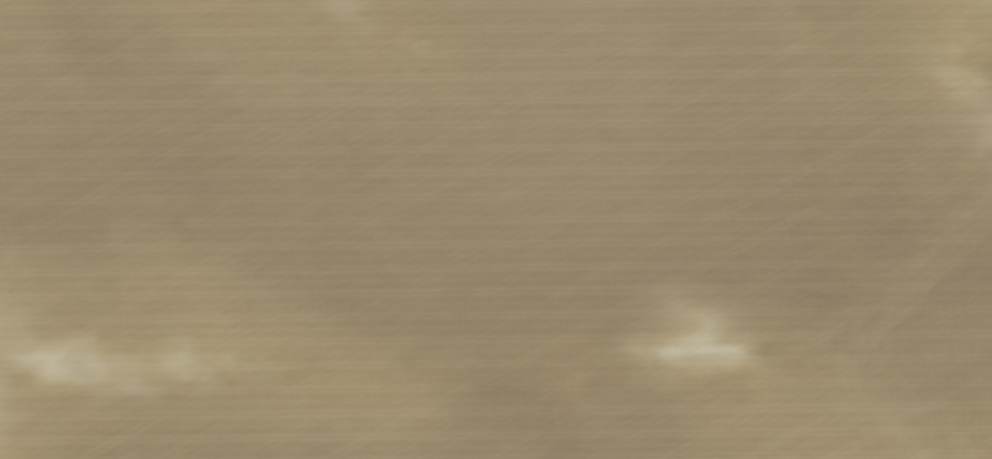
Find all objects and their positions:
crop: (496, 229)

